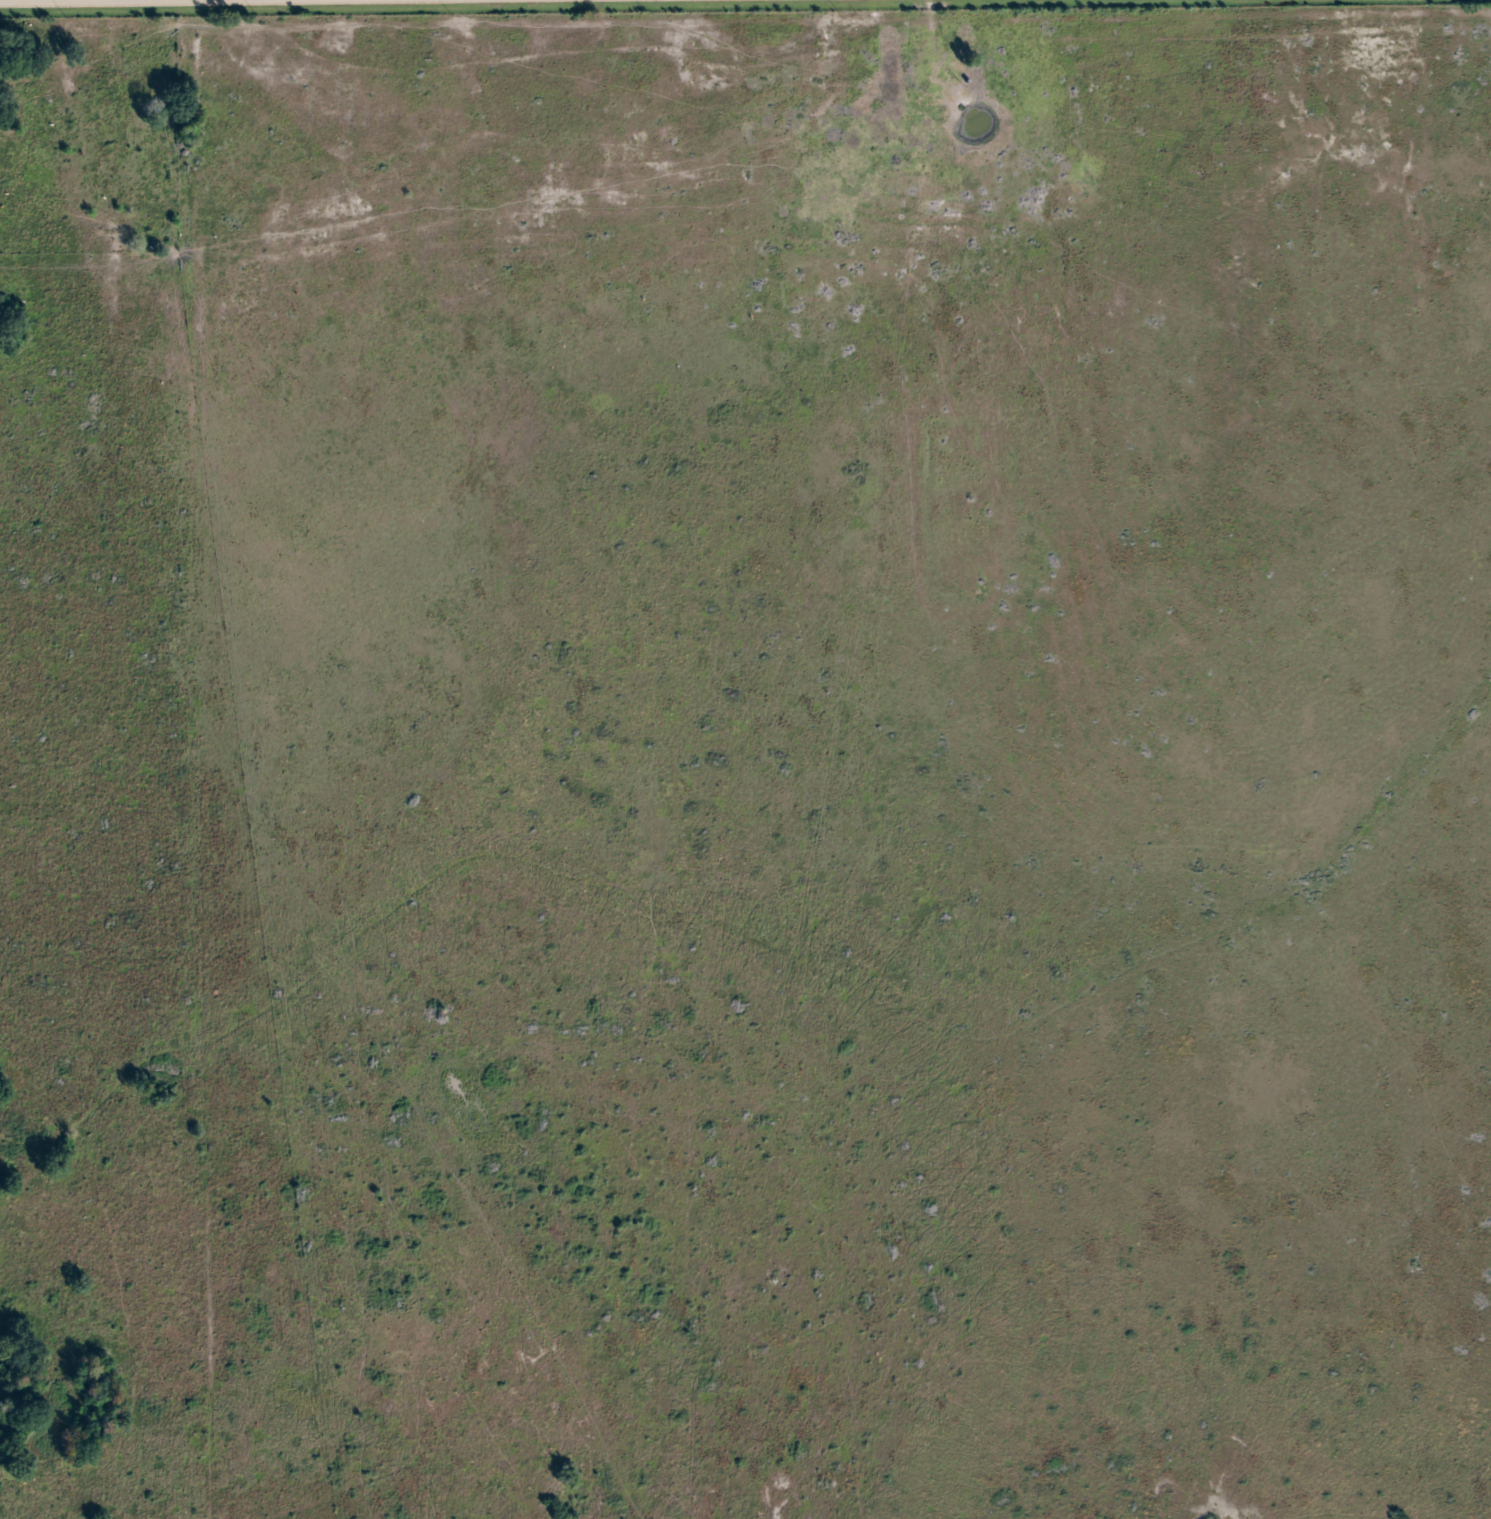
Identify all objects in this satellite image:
road: (94, 0)

